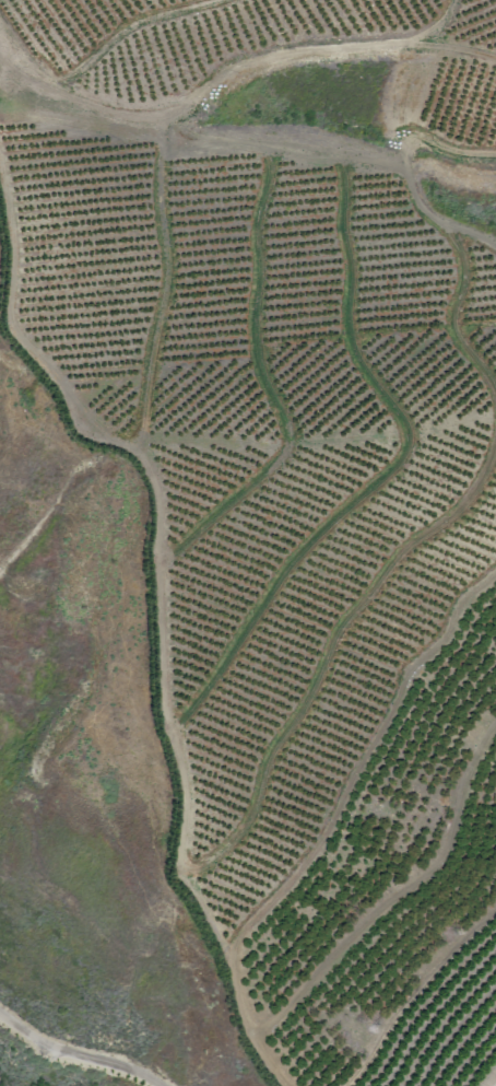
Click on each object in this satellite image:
road: (434, 27)
road: (127, 30)
road: (226, 75)
road: (435, 148)
road: (341, 160)
road: (449, 173)
road: (163, 285)
road: (451, 318)
road: (263, 385)
road: (387, 472)
road: (158, 615)
road: (328, 647)
road: (361, 762)
road: (397, 897)
road: (73, 1056)

